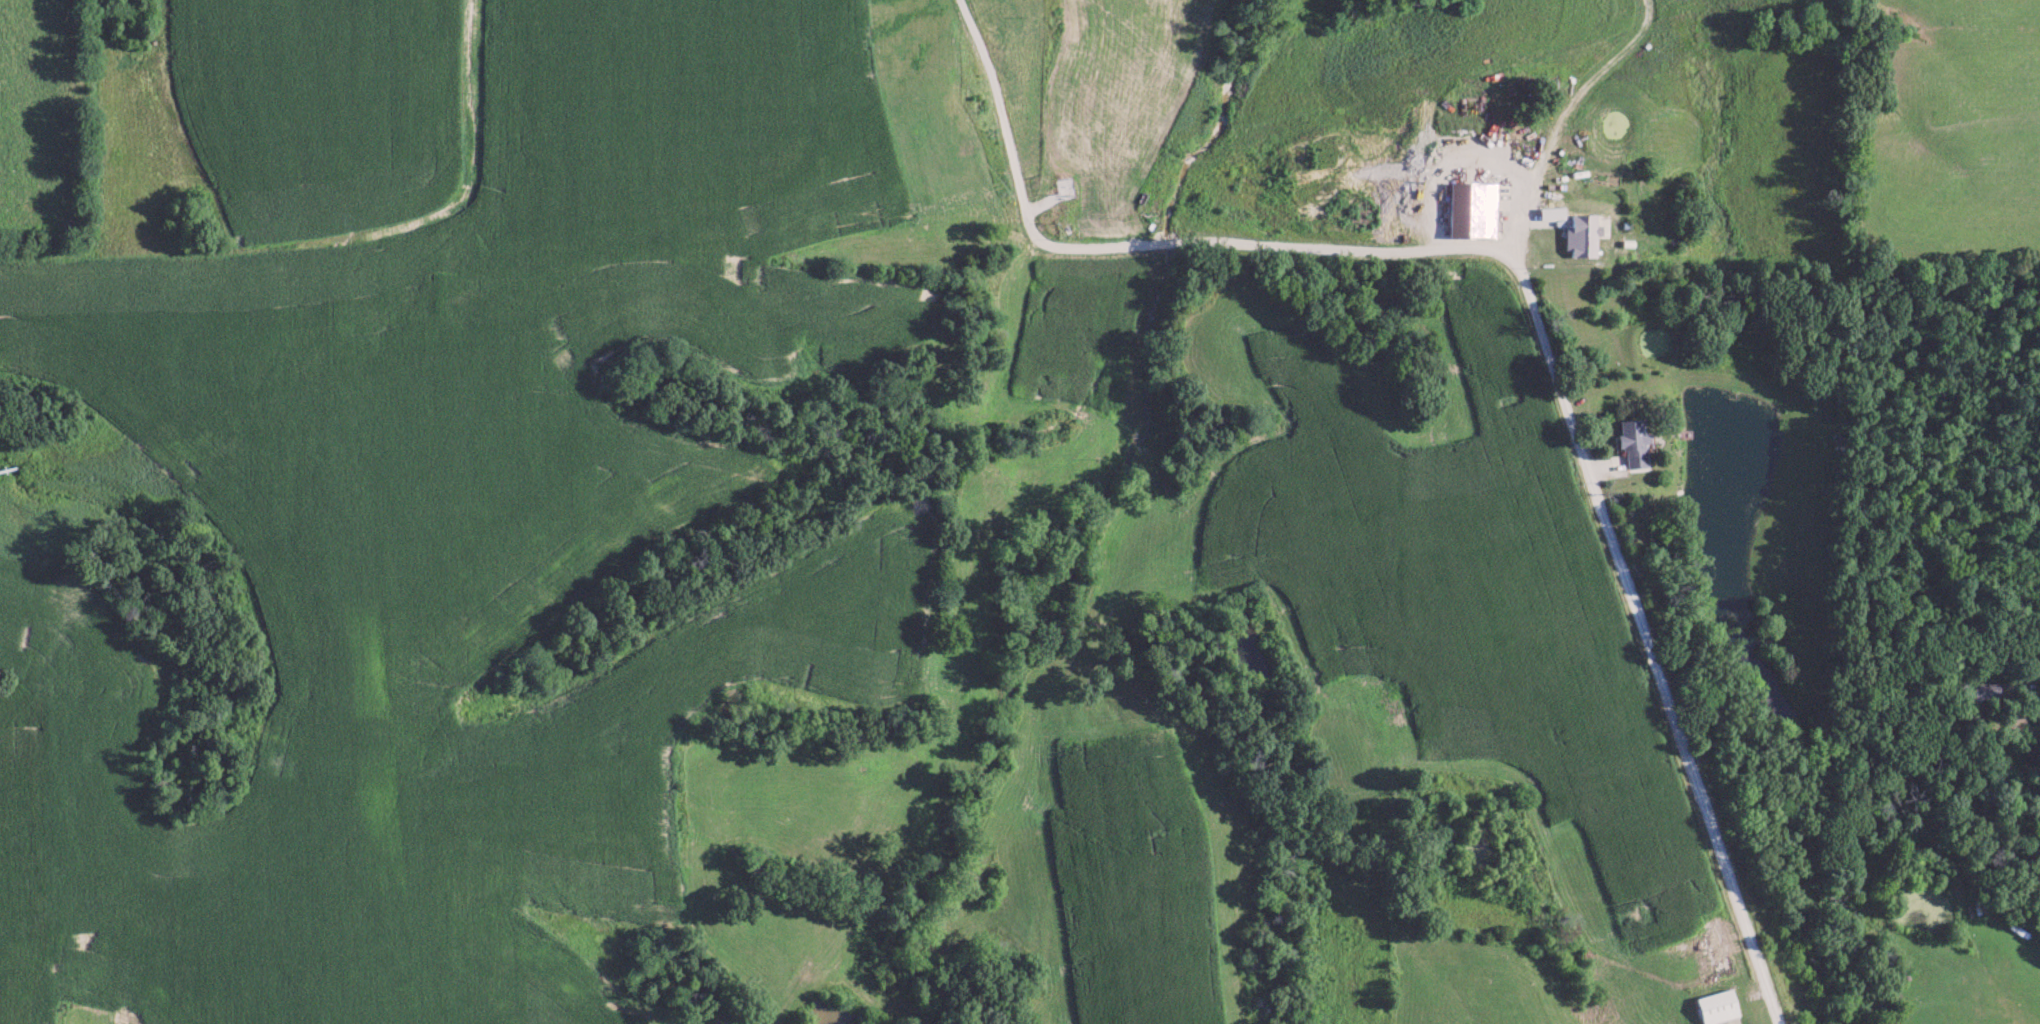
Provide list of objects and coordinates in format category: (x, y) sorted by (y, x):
building: (1471, 209)
building: (1580, 235)
road: (1530, 290)
building: (1631, 441)
building: (2037, 708)
building: (1715, 1006)

